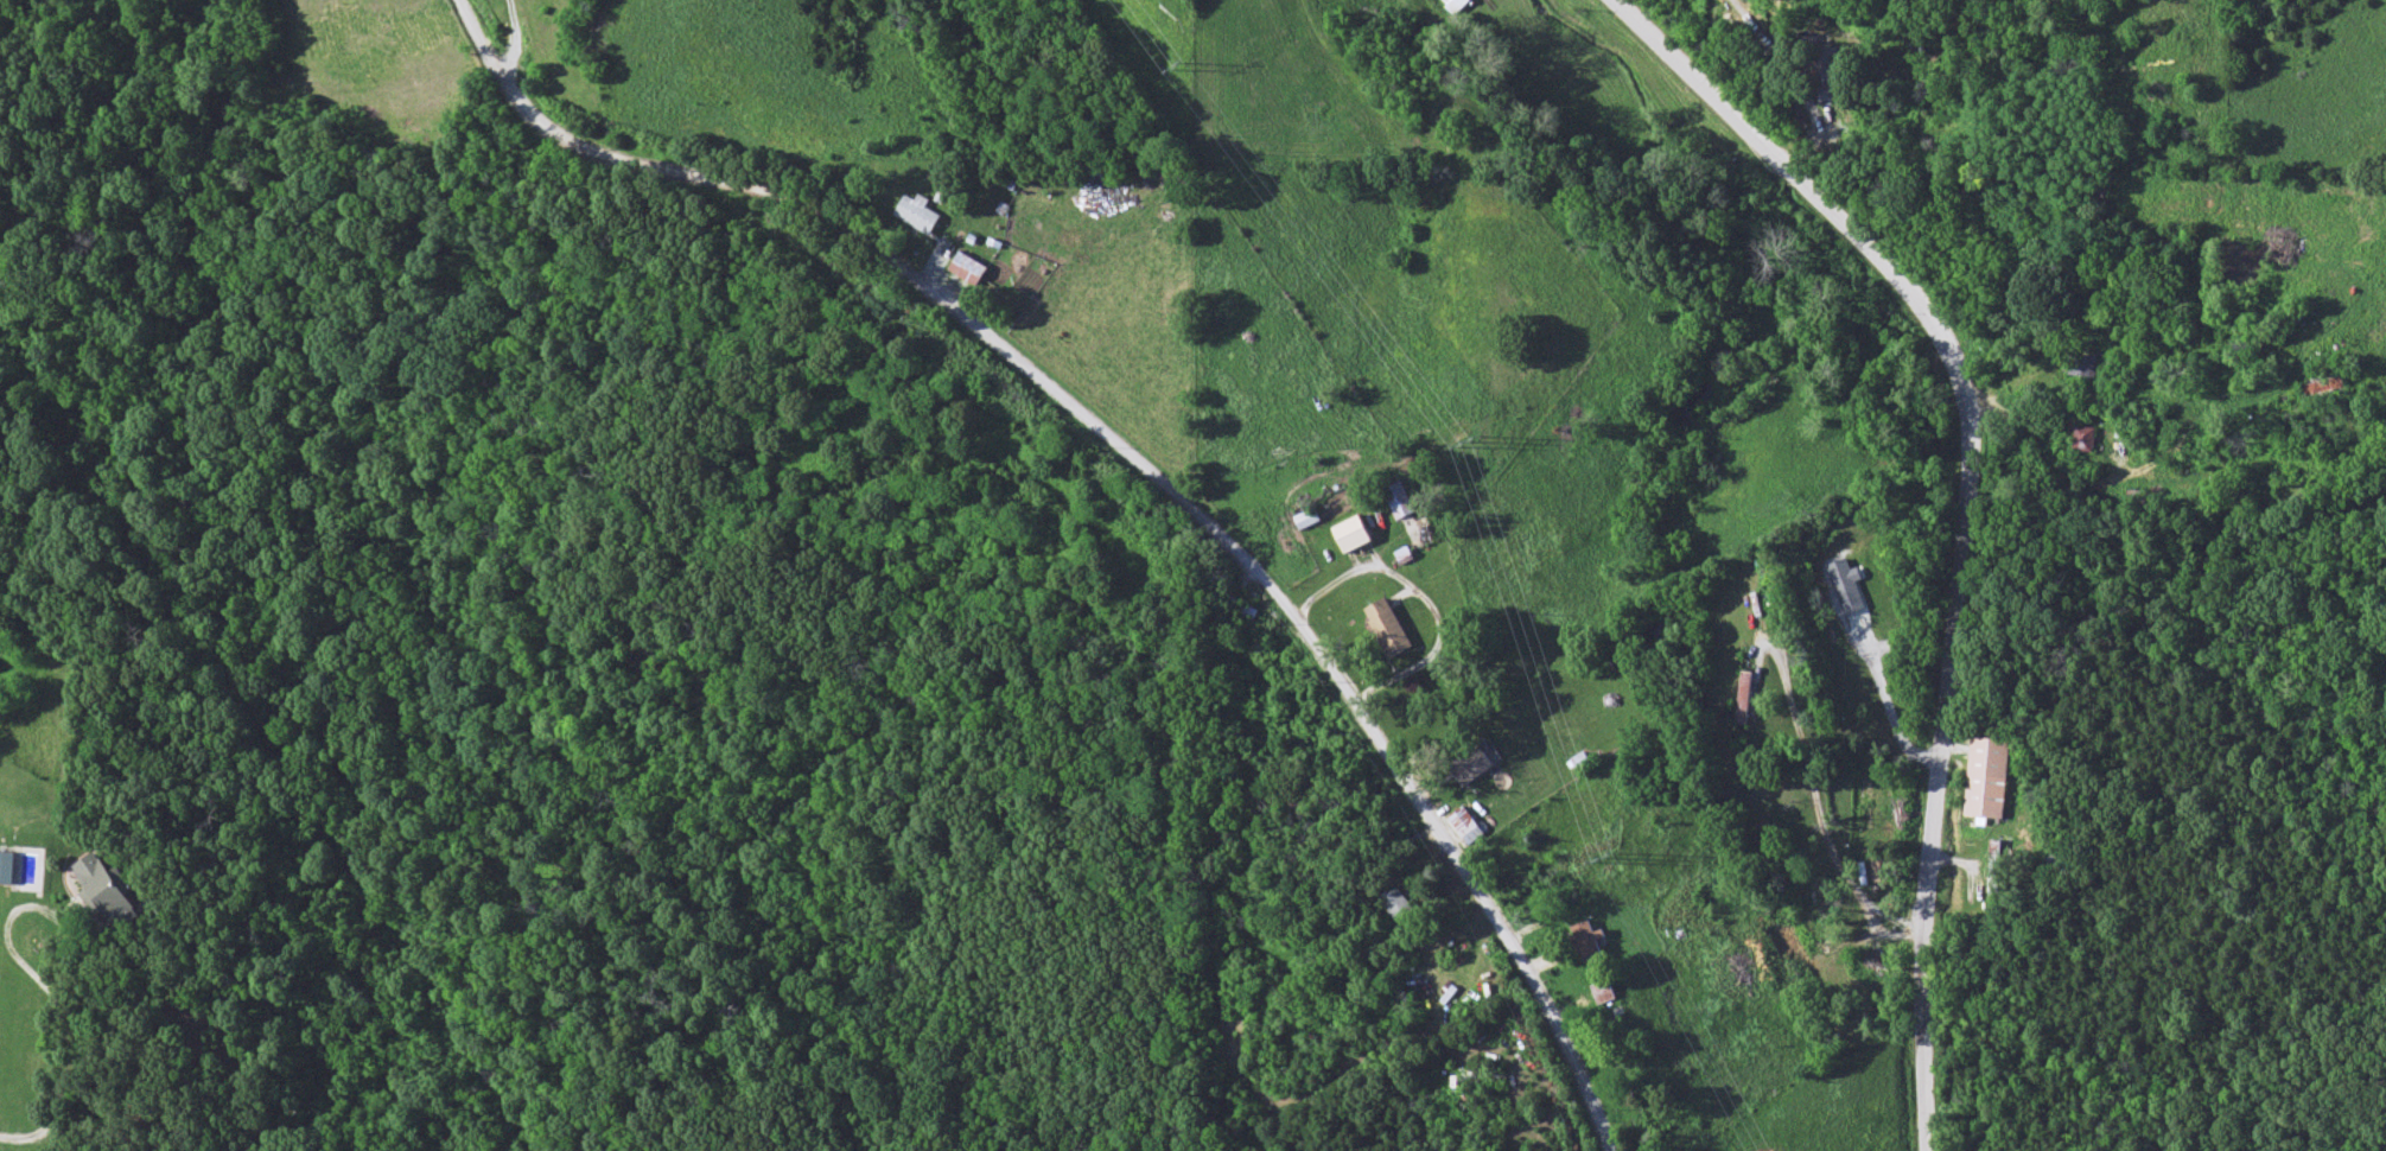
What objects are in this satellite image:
power tower: (1171, 72)
road: (1806, 109)
power tower: (1459, 444)
road: (1144, 459)
road: (1967, 507)
power tower: (1602, 864)
road: (24, 910)
road: (59, 1098)
park: (2373, 1145)

